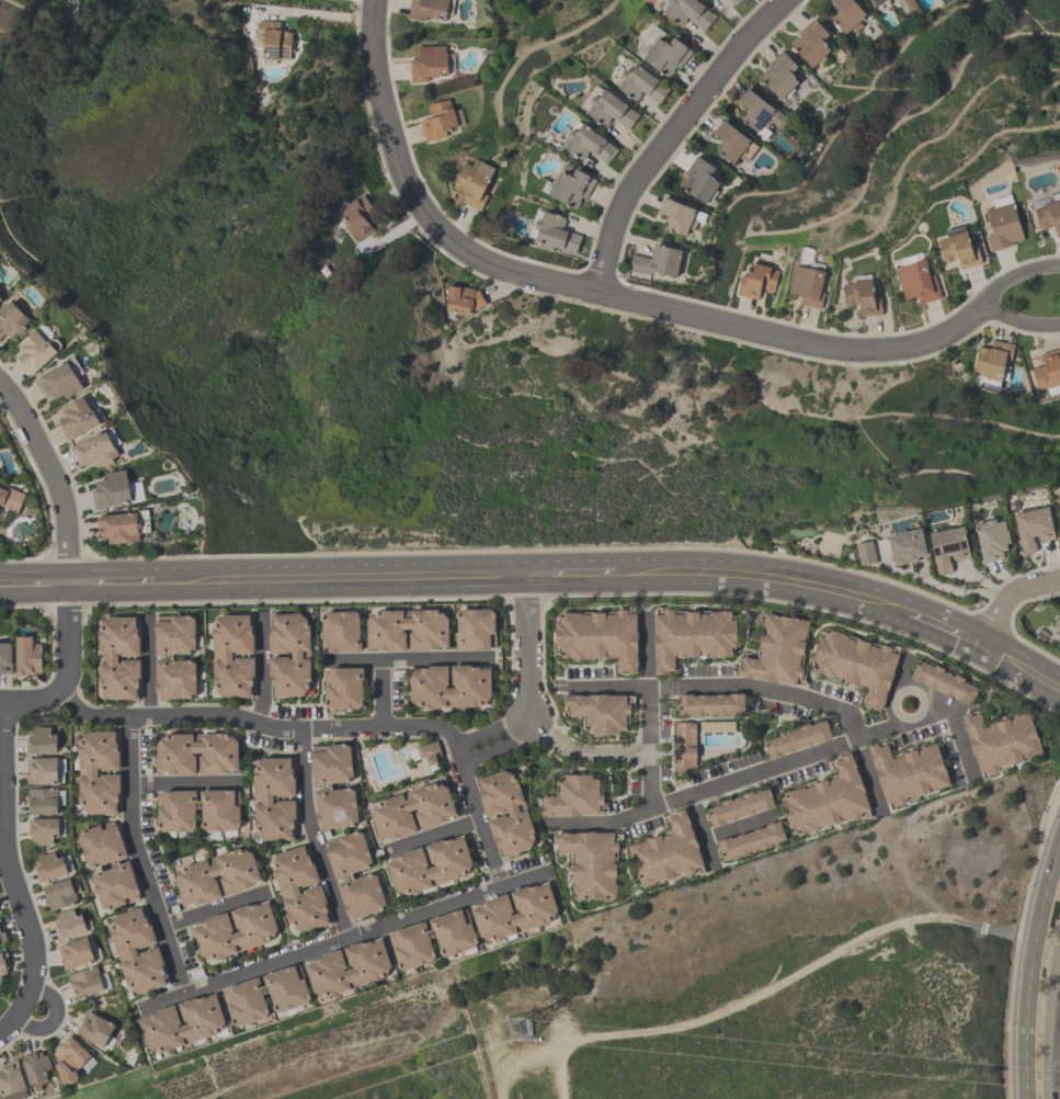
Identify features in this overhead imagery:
road: (373, 0)
building: (710, 0)
building: (733, 1)
building: (875, 2)
building: (905, 7)
building: (428, 9)
building: (688, 12)
building: (847, 14)
building: (811, 42)
building: (273, 43)
building: (663, 50)
building: (429, 63)
building: (779, 75)
building: (640, 83)
building: (611, 109)
building: (759, 114)
building: (438, 120)
road: (671, 134)
building: (730, 140)
building: (589, 144)
building: (699, 179)
building: (474, 183)
building: (571, 186)
building: (1049, 214)
building: (676, 215)
building: (357, 218)
building: (1003, 225)
building: (556, 231)
building: (959, 249)
building: (657, 261)
building: (756, 280)
building: (917, 281)
building: (807, 284)
road: (584, 288)
building: (863, 295)
building: (0, 297)
building: (461, 299)
road: (978, 307)
building: (12, 318)
building: (36, 351)
building: (993, 361)
building: (1048, 373)
building: (59, 381)
building: (77, 417)
building: (94, 450)
road: (53, 478)
building: (114, 490)
building: (11, 498)
building: (1059, 499)
building: (1059, 508)
building: (118, 526)
building: (1034, 526)
building: (992, 539)
building: (907, 545)
building: (948, 546)
building: (866, 552)
road: (571, 574)
road: (339, 577)
road: (738, 578)
road: (34, 581)
road: (111, 581)
road: (1008, 598)
road: (882, 607)
building: (1057, 623)
building: (475, 628)
building: (385, 630)
building: (341, 631)
road: (943, 631)
building: (174, 635)
building: (693, 635)
building: (599, 636)
building: (778, 650)
building: (300, 654)
building: (27, 655)
building: (221, 655)
building: (107, 657)
building: (5, 658)
road: (407, 659)
building: (856, 664)
road: (66, 666)
road: (147, 667)
road: (261, 667)
road: (1018, 667)
building: (175, 679)
building: (944, 681)
building: (472, 686)
road: (526, 686)
building: (343, 687)
road: (722, 687)
road: (893, 692)
road: (924, 692)
road: (380, 693)
building: (710, 704)
building: (601, 712)
road: (647, 712)
road: (951, 717)
road: (257, 724)
building: (797, 738)
building: (41, 740)
building: (1000, 740)
building: (684, 747)
building: (430, 752)
building: (174, 754)
road: (582, 755)
building: (331, 763)
building: (42, 770)
building: (87, 772)
building: (909, 772)
road: (868, 777)
road: (184, 783)
road: (721, 784)
building: (574, 796)
building: (262, 798)
building: (828, 798)
building: (42, 801)
building: (740, 806)
building: (335, 807)
building: (219, 809)
building: (391, 809)
building: (175, 811)
building: (517, 813)
road: (476, 820)
road: (741, 825)
building: (43, 829)
road: (700, 830)
road: (430, 835)
road: (312, 836)
building: (752, 841)
building: (102, 843)
building: (666, 852)
building: (347, 853)
road: (137, 857)
building: (591, 864)
building: (49, 866)
building: (449, 866)
road: (1051, 871)
building: (240, 877)
road: (12, 884)
building: (116, 886)
building: (288, 888)
building: (60, 894)
building: (362, 895)
road: (212, 908)
building: (491, 911)
building: (68, 925)
building: (453, 931)
building: (255, 932)
building: (2, 934)
road: (343, 939)
building: (411, 945)
building: (125, 950)
building: (75, 953)
building: (3, 963)
building: (368, 968)
building: (86, 983)
building: (287, 987)
road: (1028, 997)
building: (246, 1001)
road: (54, 1017)
power tower: (516, 1022)
building: (202, 1026)
road: (7, 1027)
building: (95, 1028)
road: (1056, 1038)
building: (69, 1058)
building: (36, 1065)
building: (12, 1080)

